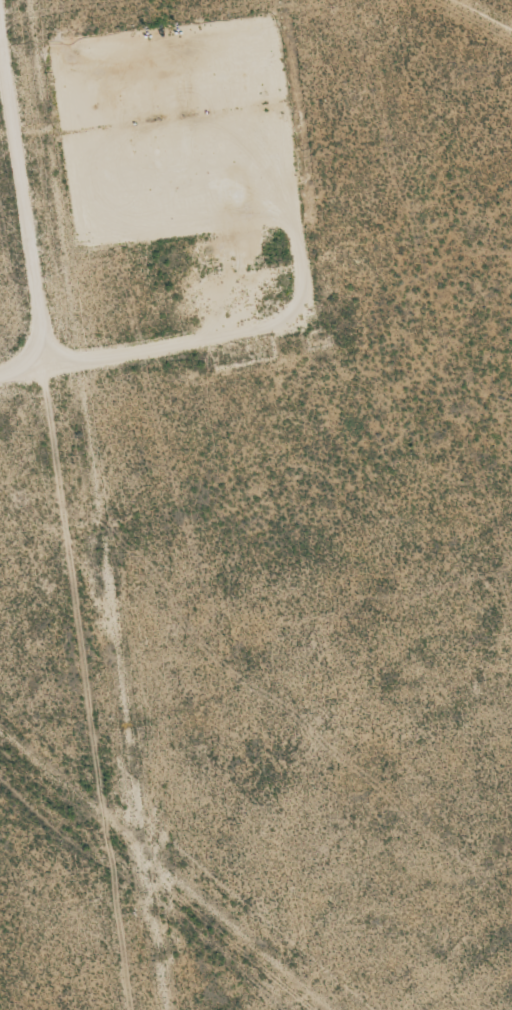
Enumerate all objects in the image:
road: (27, 203)

